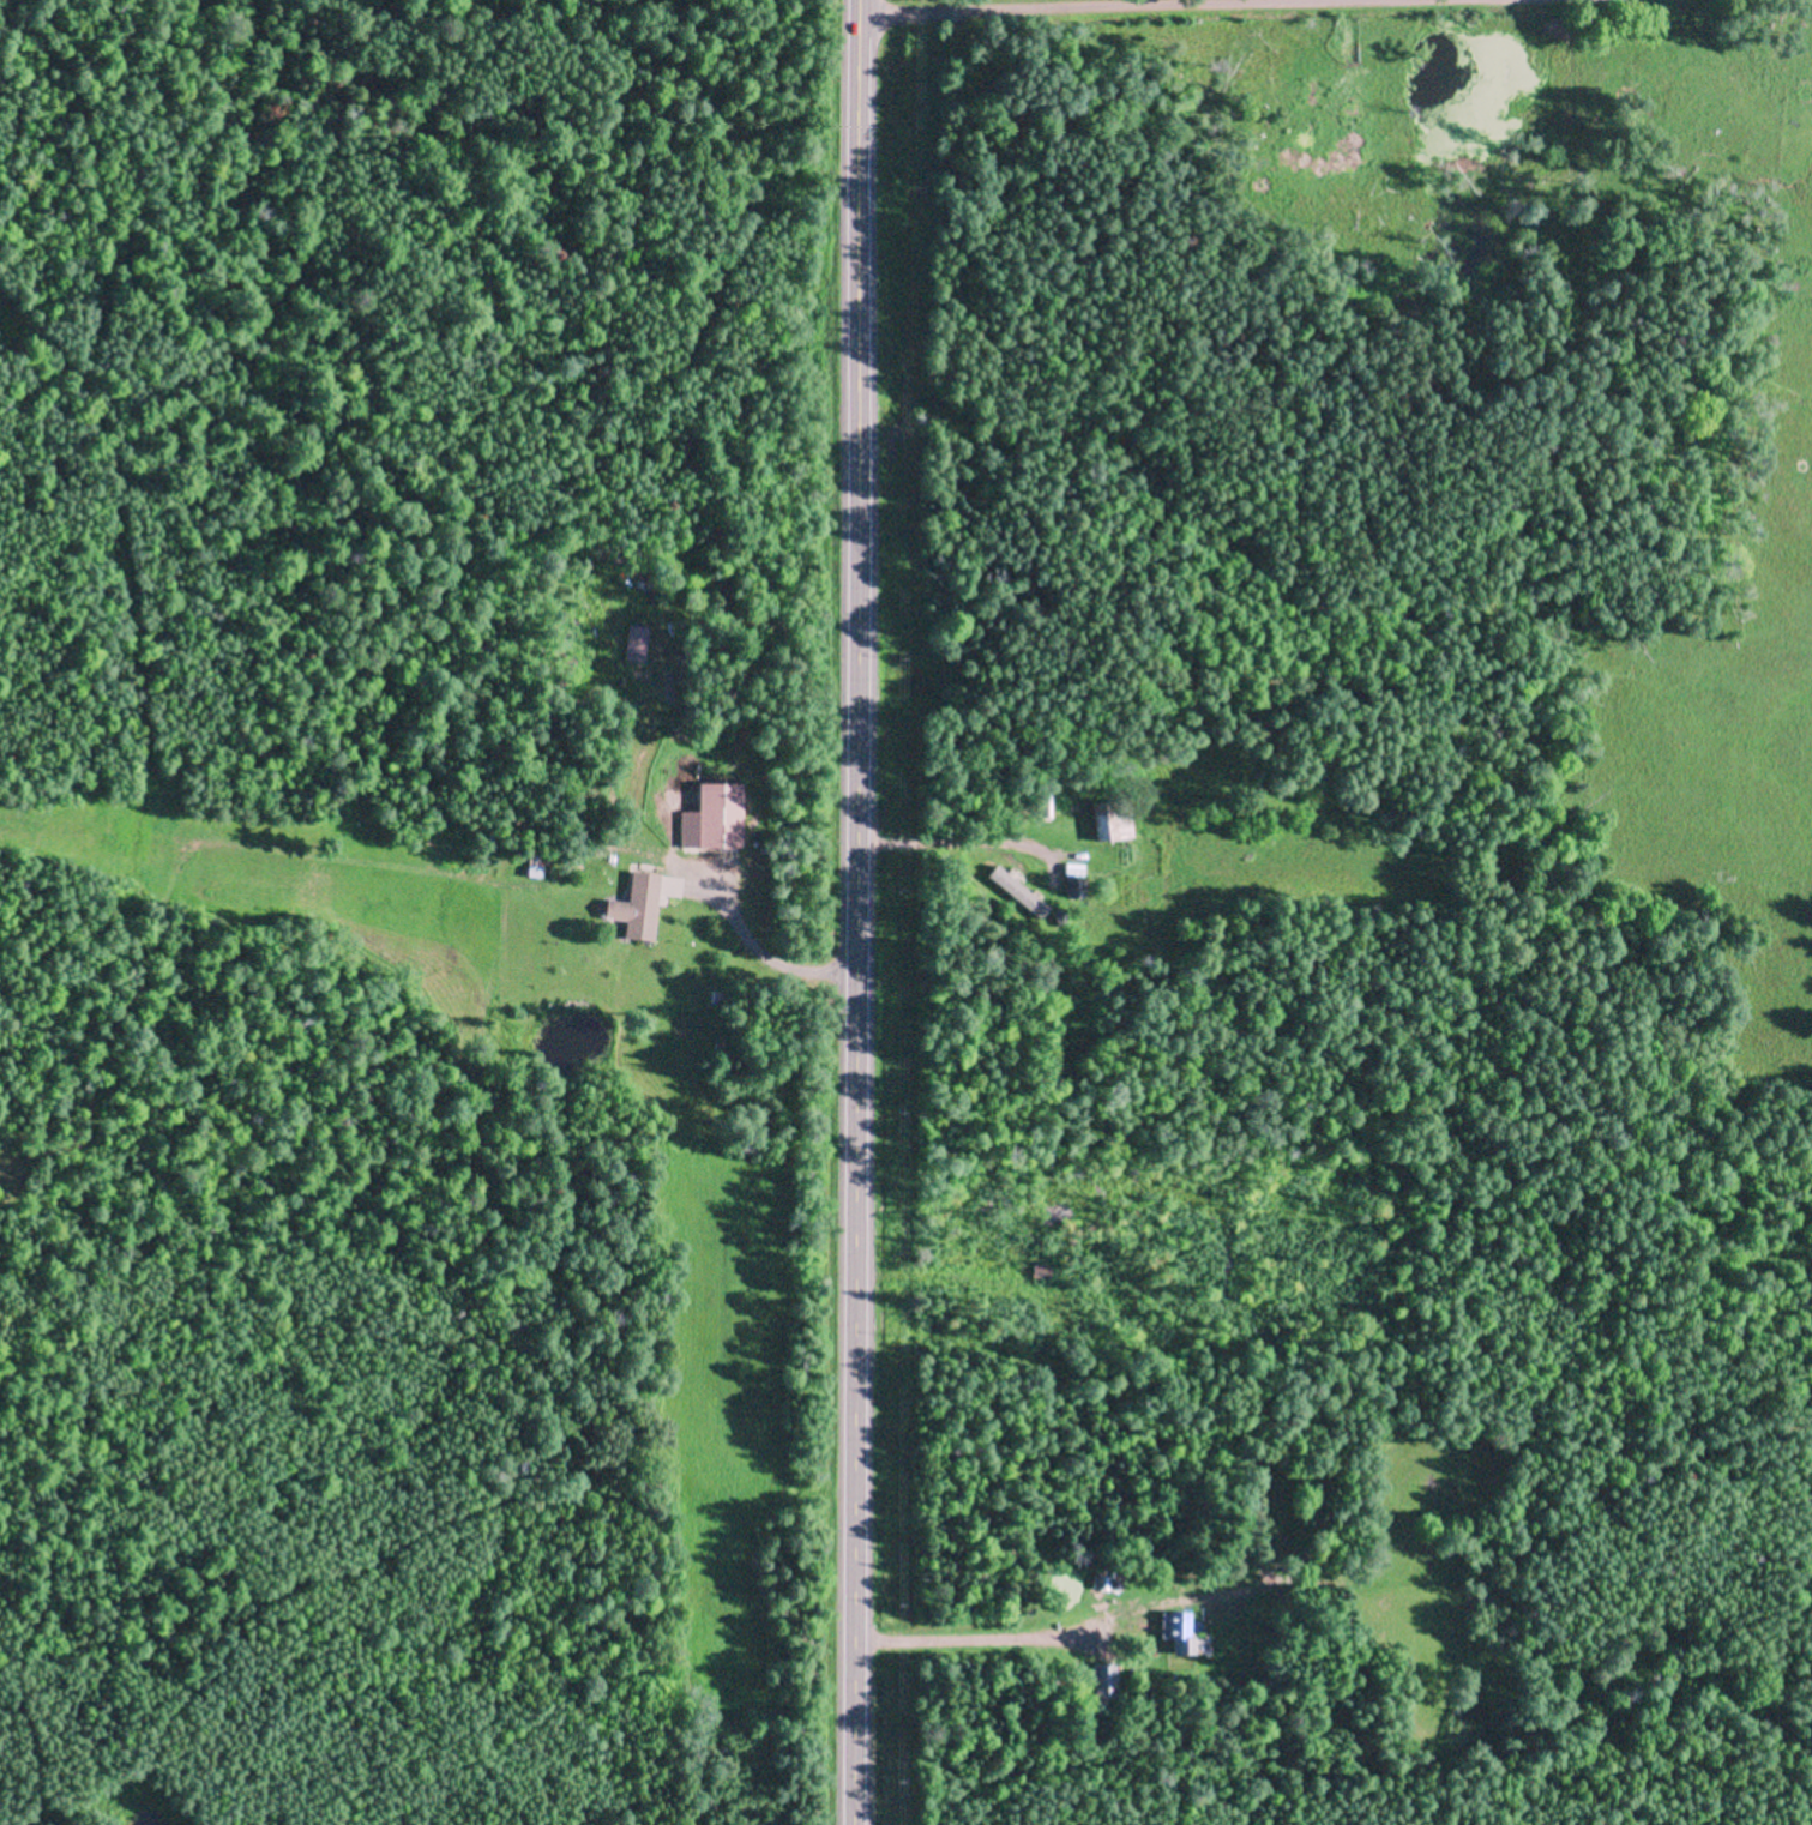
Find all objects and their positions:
crop: (955, 1)
road: (1239, 10)
building: (714, 817)
building: (1110, 818)
road: (928, 847)
building: (536, 863)
building: (1072, 868)
building: (1074, 887)
building: (1016, 891)
building: (637, 905)
road: (857, 912)
building: (1058, 916)
road: (764, 963)
building: (716, 995)
building: (1104, 1583)
building: (1178, 1632)
road: (964, 1638)
building: (1104, 1681)

